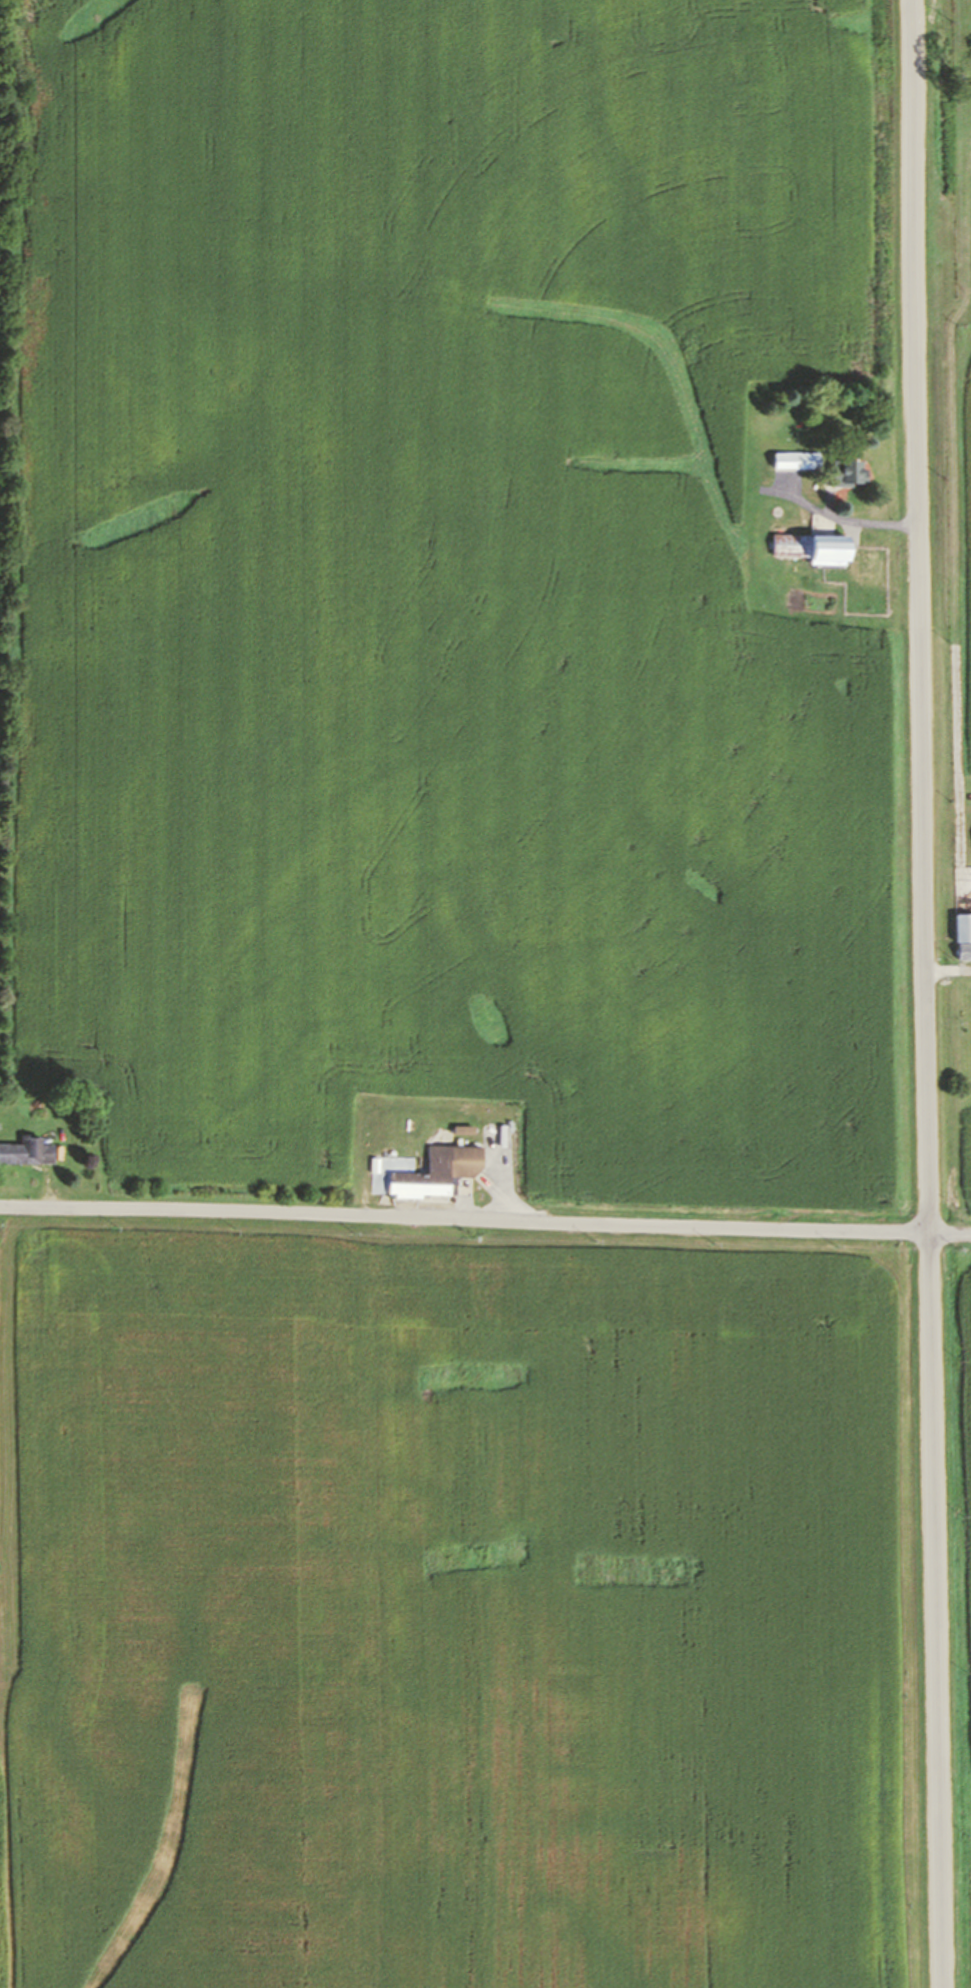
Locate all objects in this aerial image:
building: (795, 459)
building: (843, 471)
road: (835, 517)
building: (810, 547)
building: (961, 926)
building: (963, 950)
road: (947, 970)
road: (923, 994)
building: (505, 1128)
building: (24, 1152)
building: (395, 1172)
road: (45, 1186)
road: (485, 1218)

